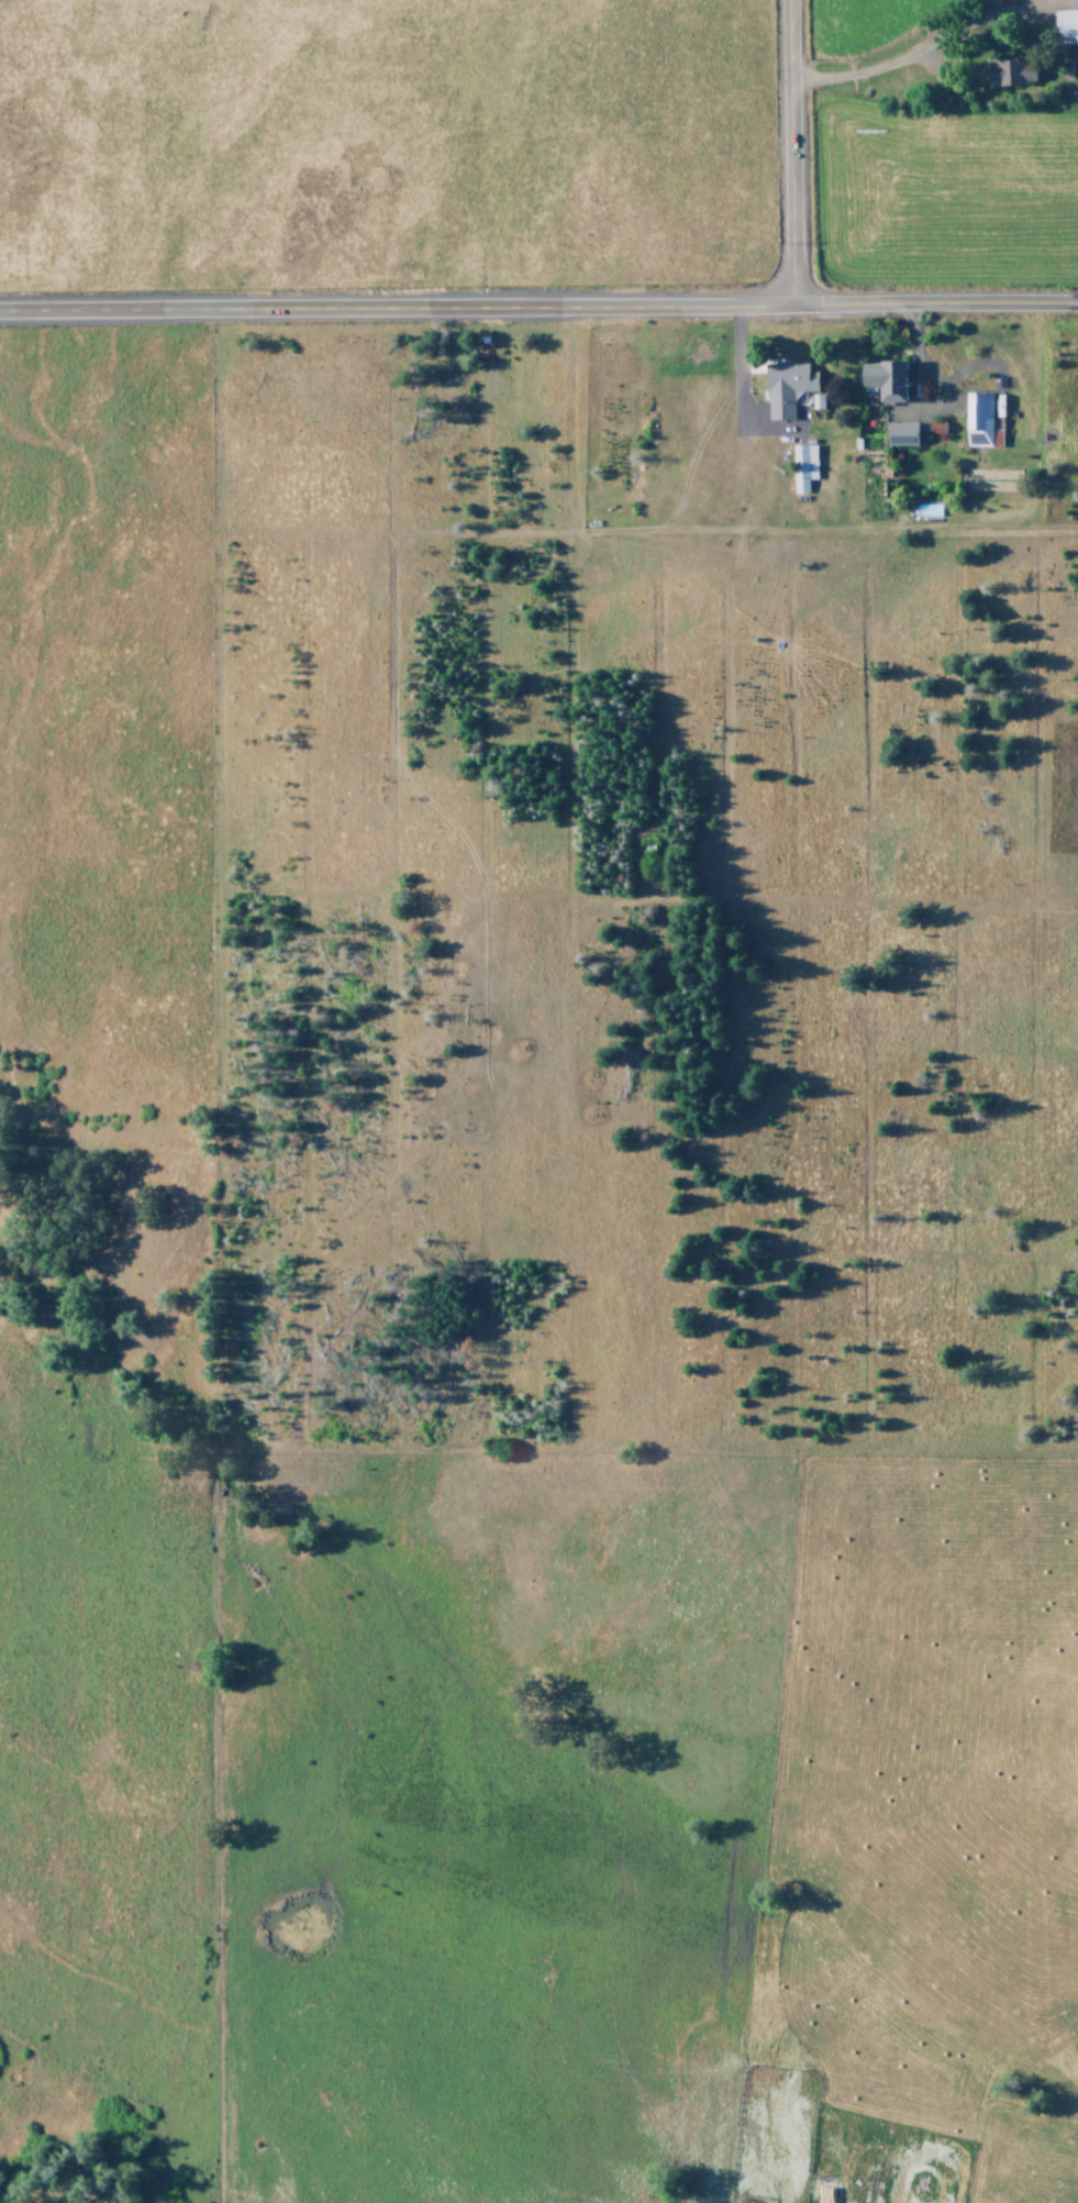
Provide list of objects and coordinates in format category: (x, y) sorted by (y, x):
building: (1067, 24)
building: (1011, 73)
road: (784, 152)
road: (392, 305)
road: (932, 305)
building: (885, 379)
building: (786, 387)
building: (900, 433)
building: (802, 466)

